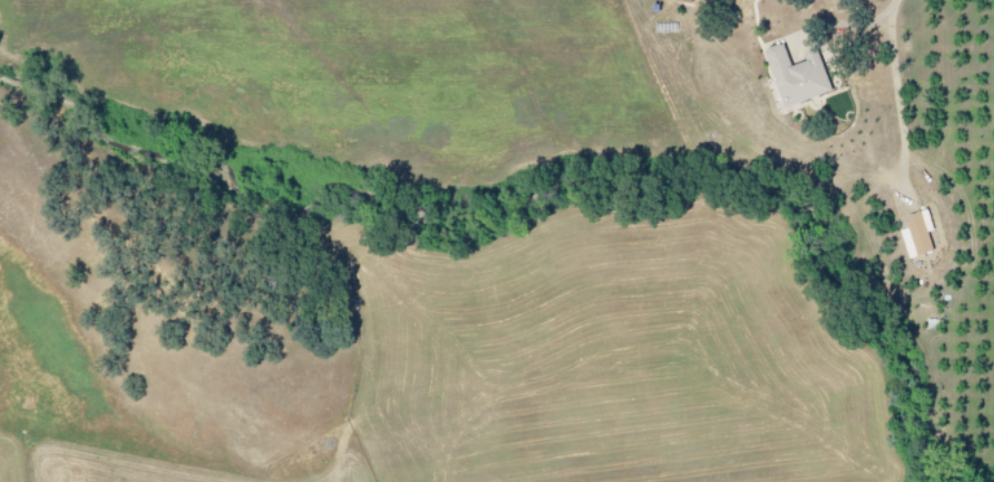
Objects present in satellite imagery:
building: (679, 1)
road: (850, 22)
building: (791, 75)
building: (912, 234)

